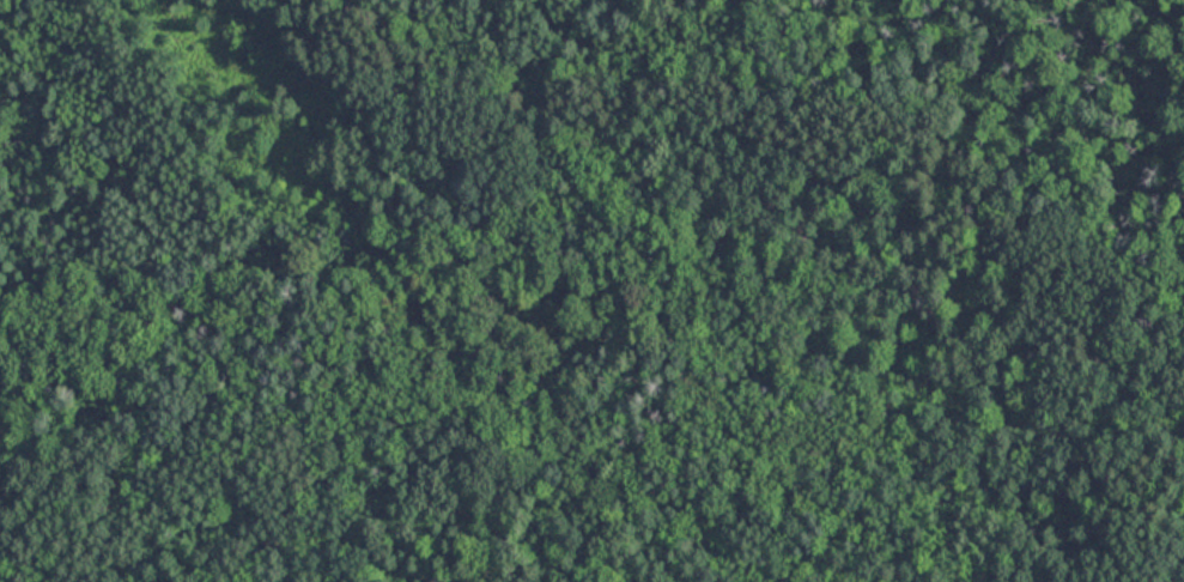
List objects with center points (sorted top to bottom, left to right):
park: (591, 291)

